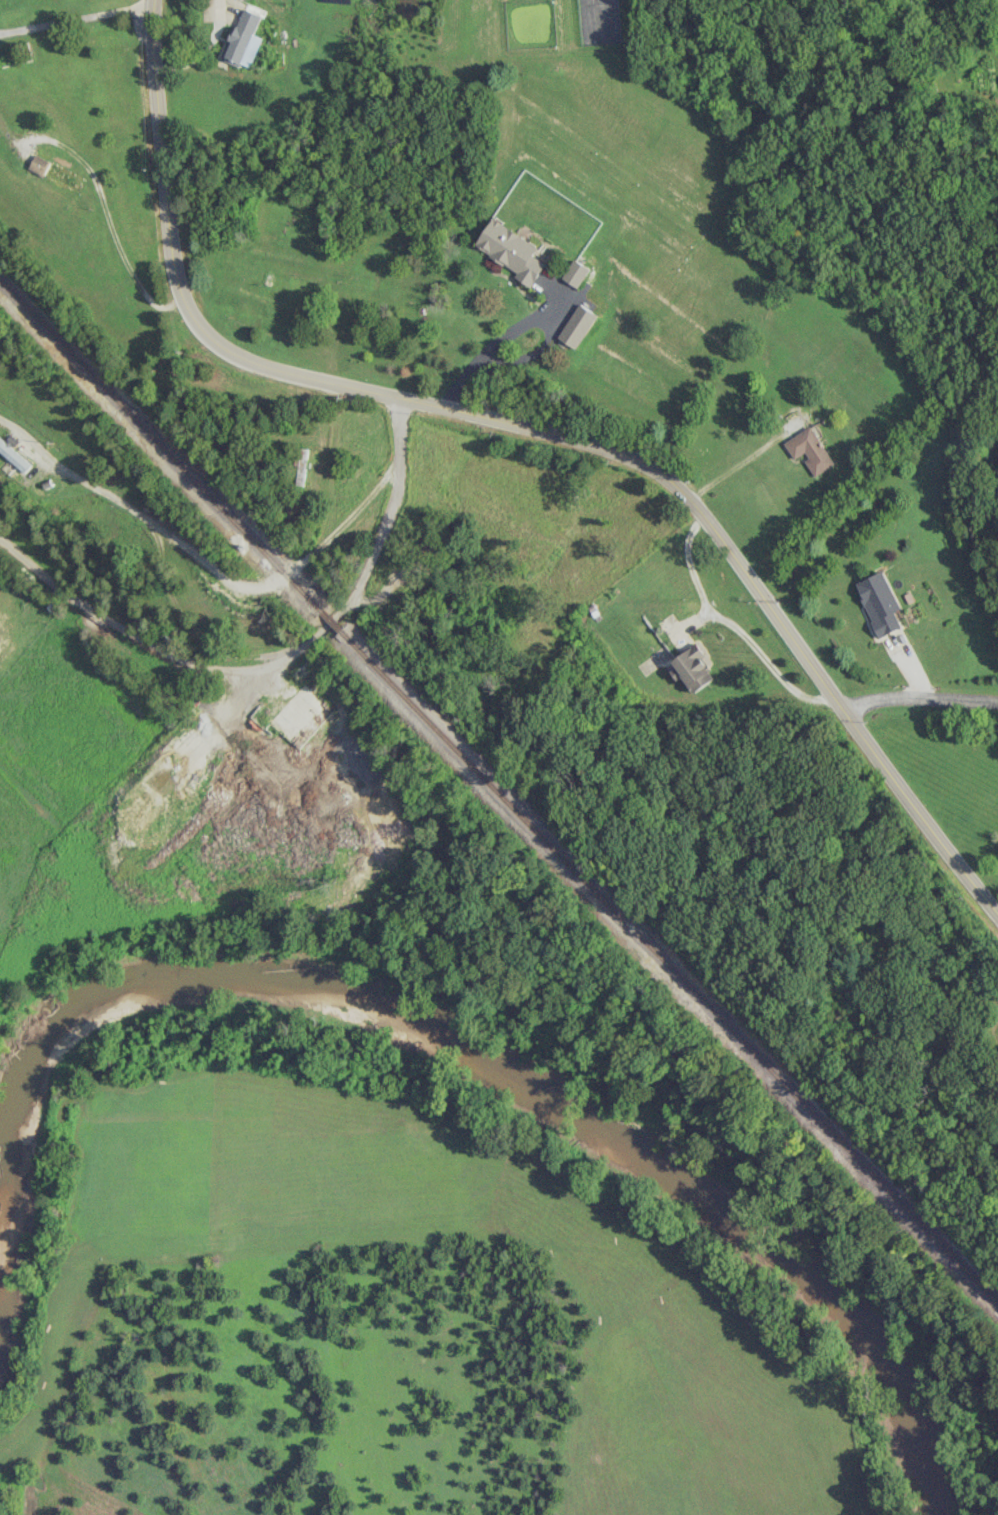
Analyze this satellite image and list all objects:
road: (220, 9)
road: (76, 17)
building: (243, 37)
park: (15, 53)
building: (39, 165)
road: (109, 218)
building: (511, 251)
building: (575, 273)
building: (576, 326)
road: (488, 349)
road: (533, 431)
railway: (158, 448)
building: (809, 451)
building: (13, 457)
road: (739, 463)
building: (300, 467)
road: (381, 531)
road: (206, 560)
building: (879, 603)
railway: (328, 622)
road: (730, 624)
road: (145, 641)
building: (692, 668)
road: (917, 697)
railway: (668, 969)
park: (389, 1334)

